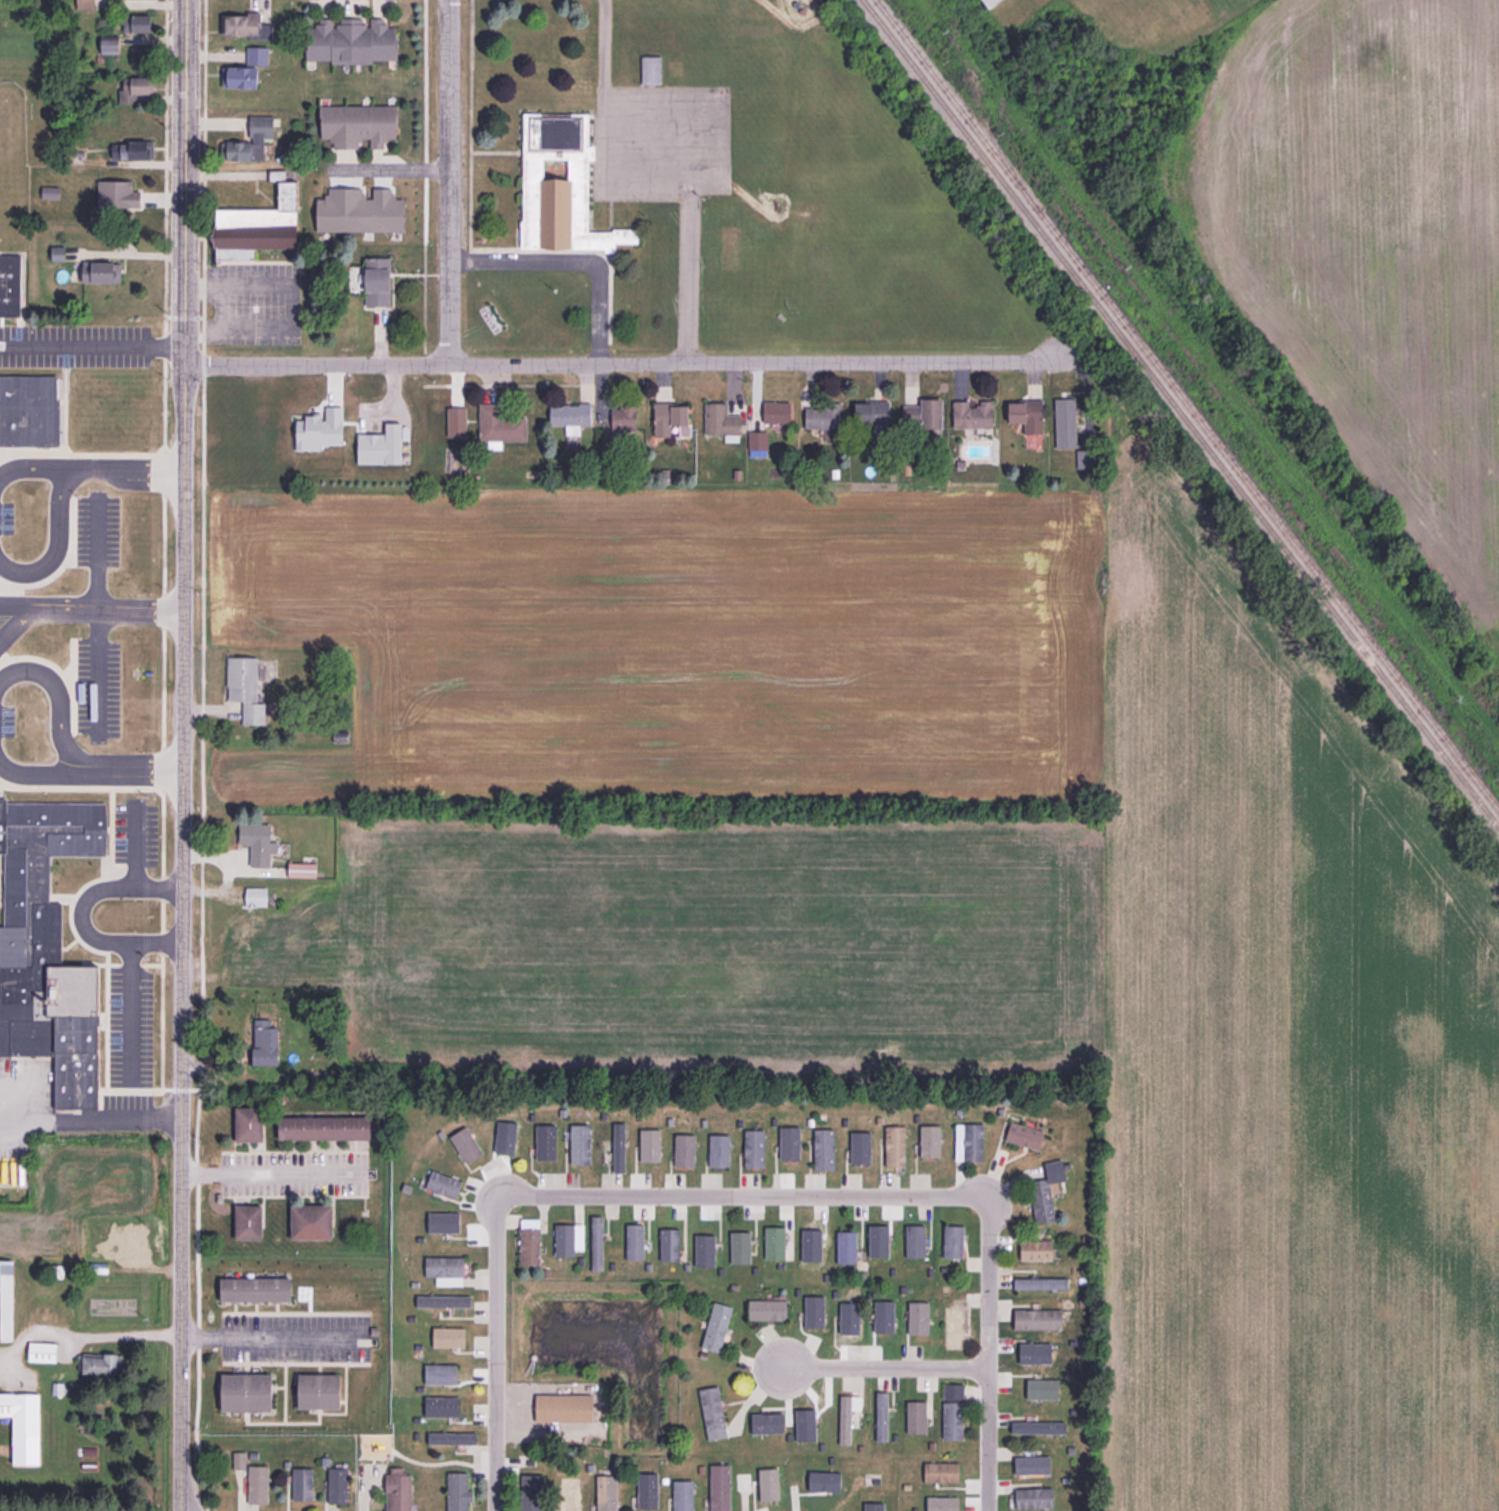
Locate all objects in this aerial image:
building: (144, 0)
building: (992, 3)
building: (86, 4)
building: (137, 23)
building: (248, 26)
building: (351, 41)
road: (604, 42)
building: (110, 47)
building: (257, 55)
building: (652, 70)
building: (240, 77)
building: (135, 88)
road: (666, 107)
building: (358, 125)
road: (470, 125)
building: (259, 139)
parking lot: (661, 142)
building: (133, 150)
road: (389, 167)
road: (686, 180)
road: (424, 182)
road: (448, 182)
building: (561, 187)
building: (51, 192)
building: (118, 194)
building: (258, 225)
building: (58, 254)
road: (572, 260)
building: (103, 272)
road: (688, 272)
building: (378, 281)
building: (10, 285)
parking lot: (253, 304)
road: (183, 316)
parking lot: (73, 345)
road: (92, 346)
road: (622, 364)
railway: (1187, 407)
building: (29, 411)
building: (777, 412)
building: (872, 412)
building: (925, 414)
building: (973, 415)
building: (1027, 415)
railway: (1179, 415)
building: (822, 416)
building: (670, 417)
building: (570, 418)
building: (625, 420)
building: (721, 420)
building: (1066, 422)
building: (500, 427)
building: (758, 440)
building: (1087, 459)
road: (120, 462)
road: (54, 508)
road: (163, 552)
road: (91, 602)
road: (22, 622)
road: (5, 635)
building: (249, 684)
parking lot: (97, 742)
road: (73, 752)
road: (184, 755)
road: (201, 757)
road: (142, 765)
building: (258, 843)
road: (133, 845)
building: (302, 870)
road: (80, 911)
building: (250, 912)
building: (48, 950)
road: (128, 1008)
building: (265, 1042)
crop: (1282, 1063)
road: (121, 1117)
building: (250, 1123)
building: (325, 1127)
building: (1025, 1136)
building: (970, 1141)
building: (466, 1144)
building: (580, 1144)
building: (895, 1145)
building: (545, 1146)
building: (619, 1146)
building: (650, 1147)
building: (861, 1147)
building: (755, 1148)
building: (825, 1148)
building: (685, 1149)
building: (720, 1150)
parking lot: (293, 1173)
road: (269, 1175)
building: (444, 1184)
building: (1046, 1191)
road: (743, 1197)
building: (250, 1221)
building: (313, 1221)
building: (568, 1238)
building: (880, 1239)
building: (530, 1241)
building: (635, 1241)
building: (915, 1241)
building: (953, 1241)
building: (811, 1242)
building: (596, 1243)
building: (670, 1244)
building: (132, 1245)
building: (740, 1246)
building: (846, 1246)
building: (1035, 1250)
building: (445, 1269)
building: (57, 1270)
building: (1041, 1284)
building: (256, 1289)
building: (7, 1299)
building: (448, 1301)
building: (768, 1310)
building: (854, 1312)
building: (884, 1317)
building: (918, 1317)
building: (1038, 1318)
building: (717, 1327)
building: (956, 1328)
road: (84, 1336)
road: (267, 1337)
building: (448, 1337)
parking lot: (295, 1338)
building: (43, 1352)
building: (1035, 1353)
road: (495, 1355)
road: (987, 1358)
building: (102, 1366)
road: (886, 1370)
building: (441, 1373)
building: (319, 1391)
building: (248, 1392)
building: (448, 1407)
building: (565, 1408)
building: (953, 1411)
building: (713, 1412)
building: (848, 1416)
building: (881, 1416)
building: (916, 1417)
building: (765, 1423)
building: (24, 1425)
building: (805, 1426)
building: (1038, 1427)
building: (452, 1438)
building: (239, 1460)
building: (1032, 1464)
building: (941, 1472)
building: (822, 1478)
building: (743, 1481)
building: (768, 1483)
building: (258, 1484)
building: (302, 1484)
building: (337, 1485)
building: (719, 1488)
building: (398, 1490)
building: (458, 1492)
building: (607, 1493)
building: (570, 1494)
building: (683, 1496)
building: (1031, 1498)
building: (941, 1504)

